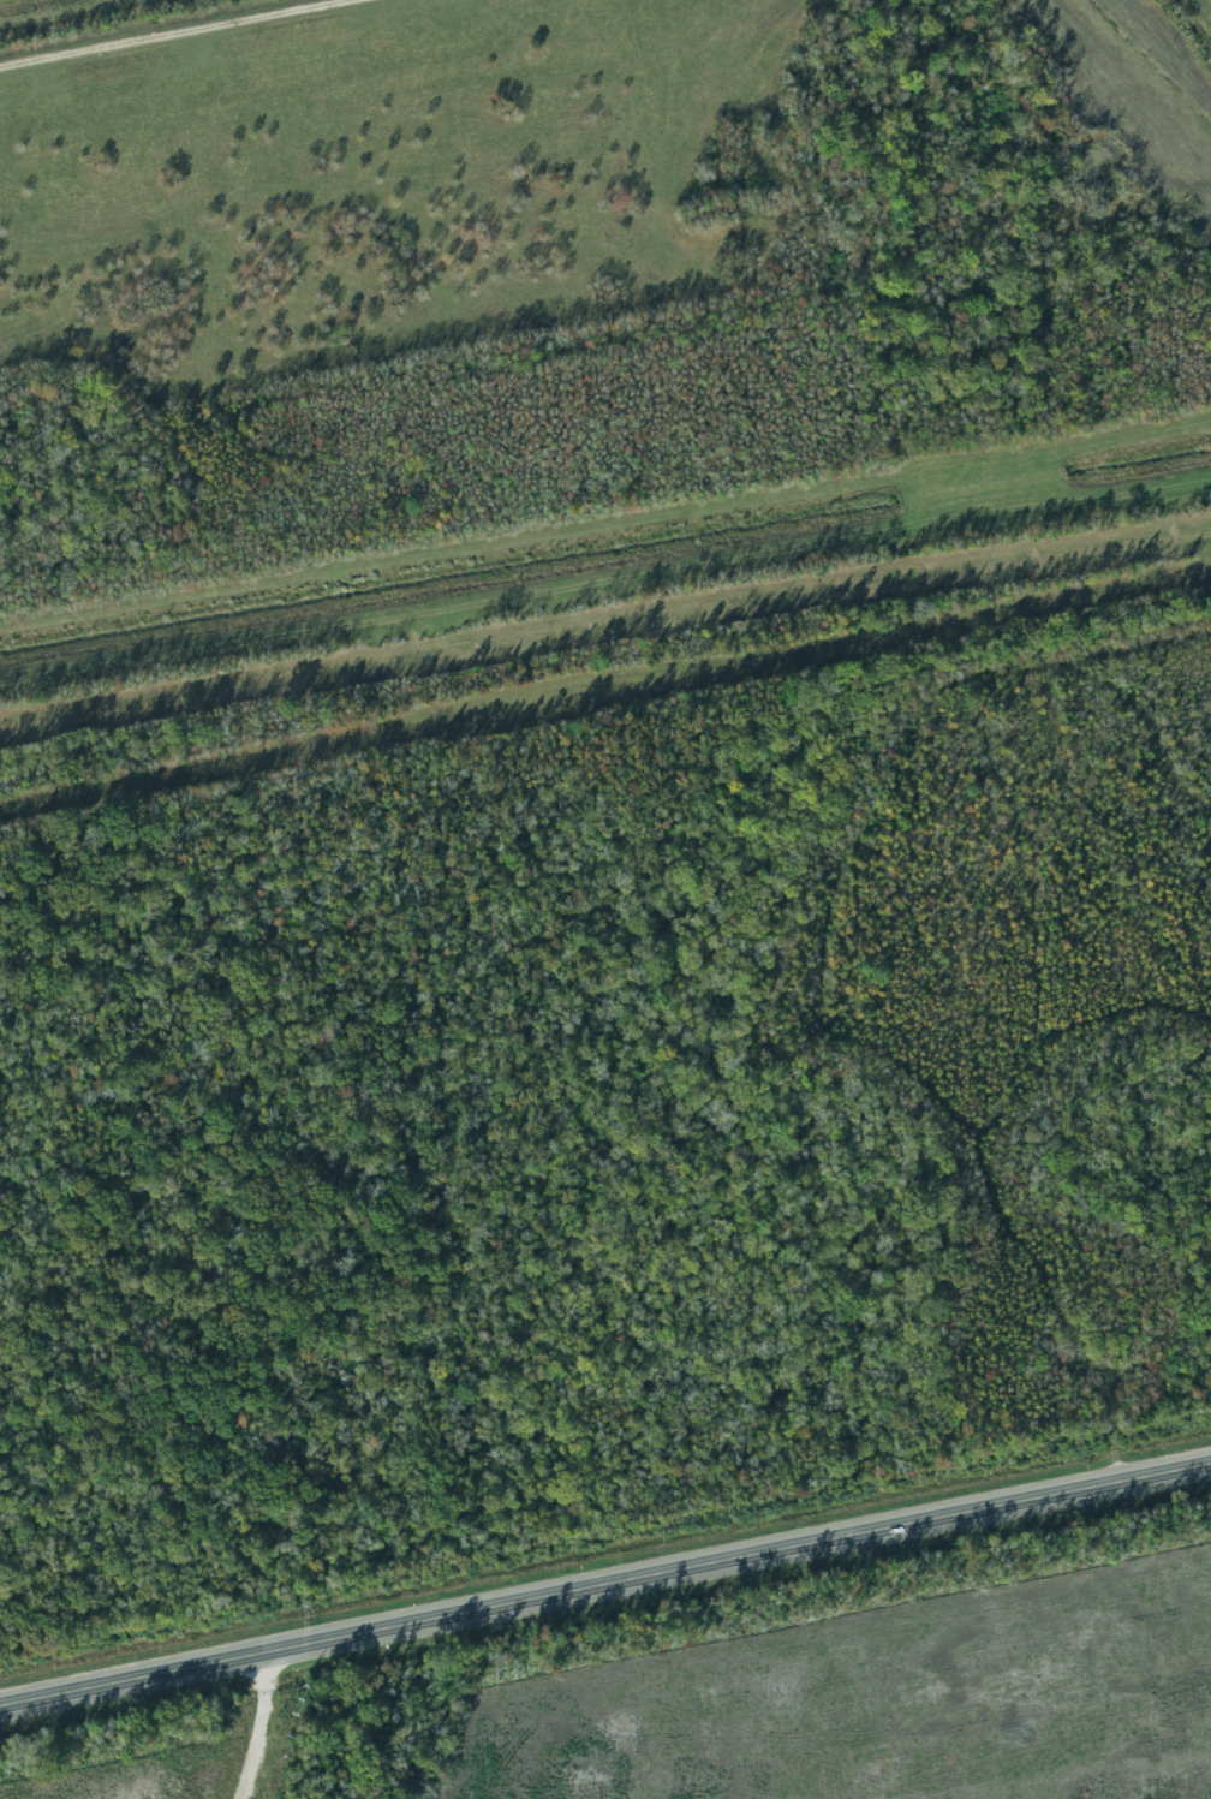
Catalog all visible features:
road: (604, 1581)
road: (257, 1726)

